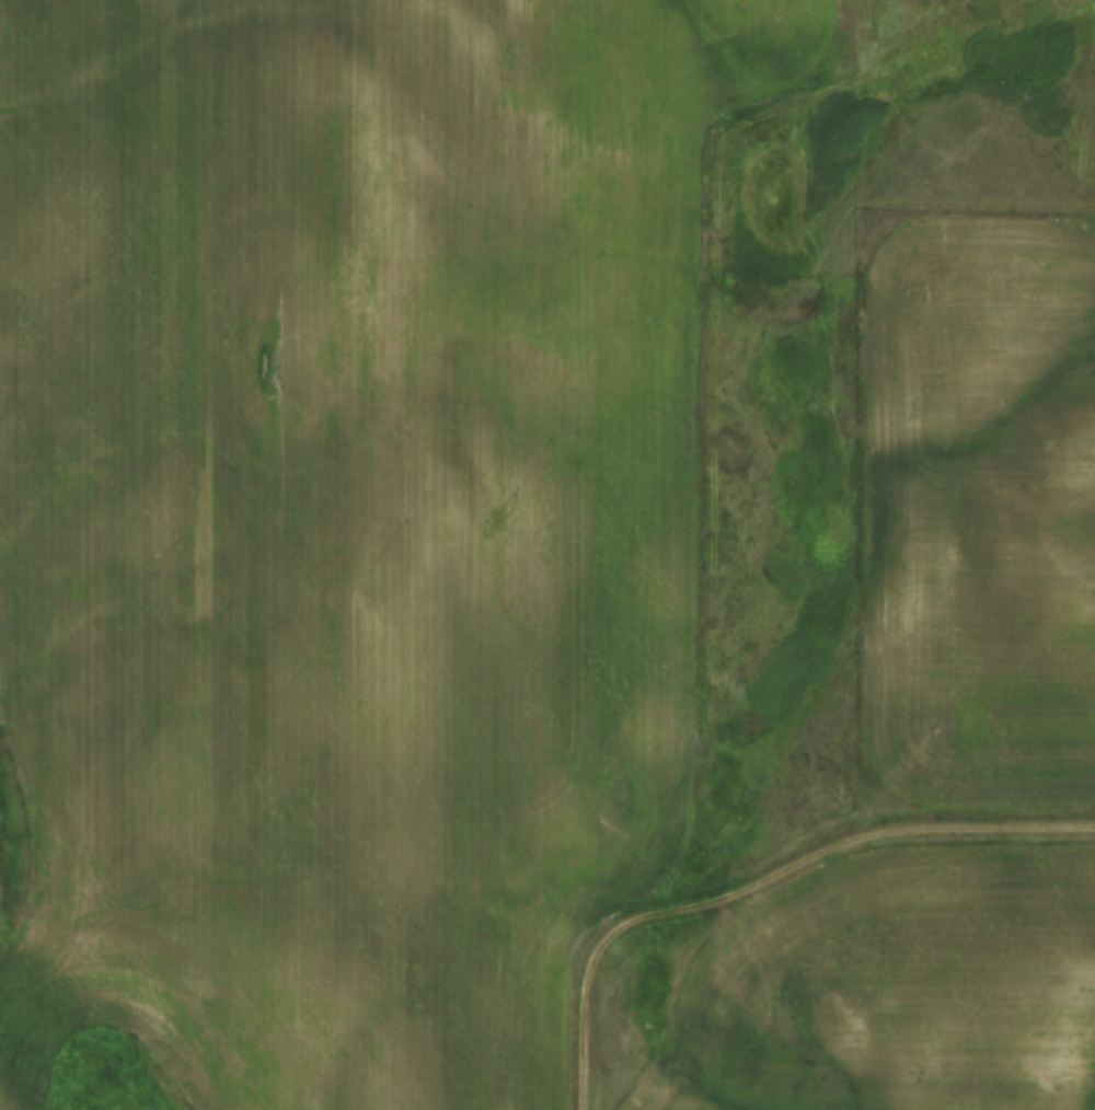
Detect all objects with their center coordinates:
road: (761, 887)

